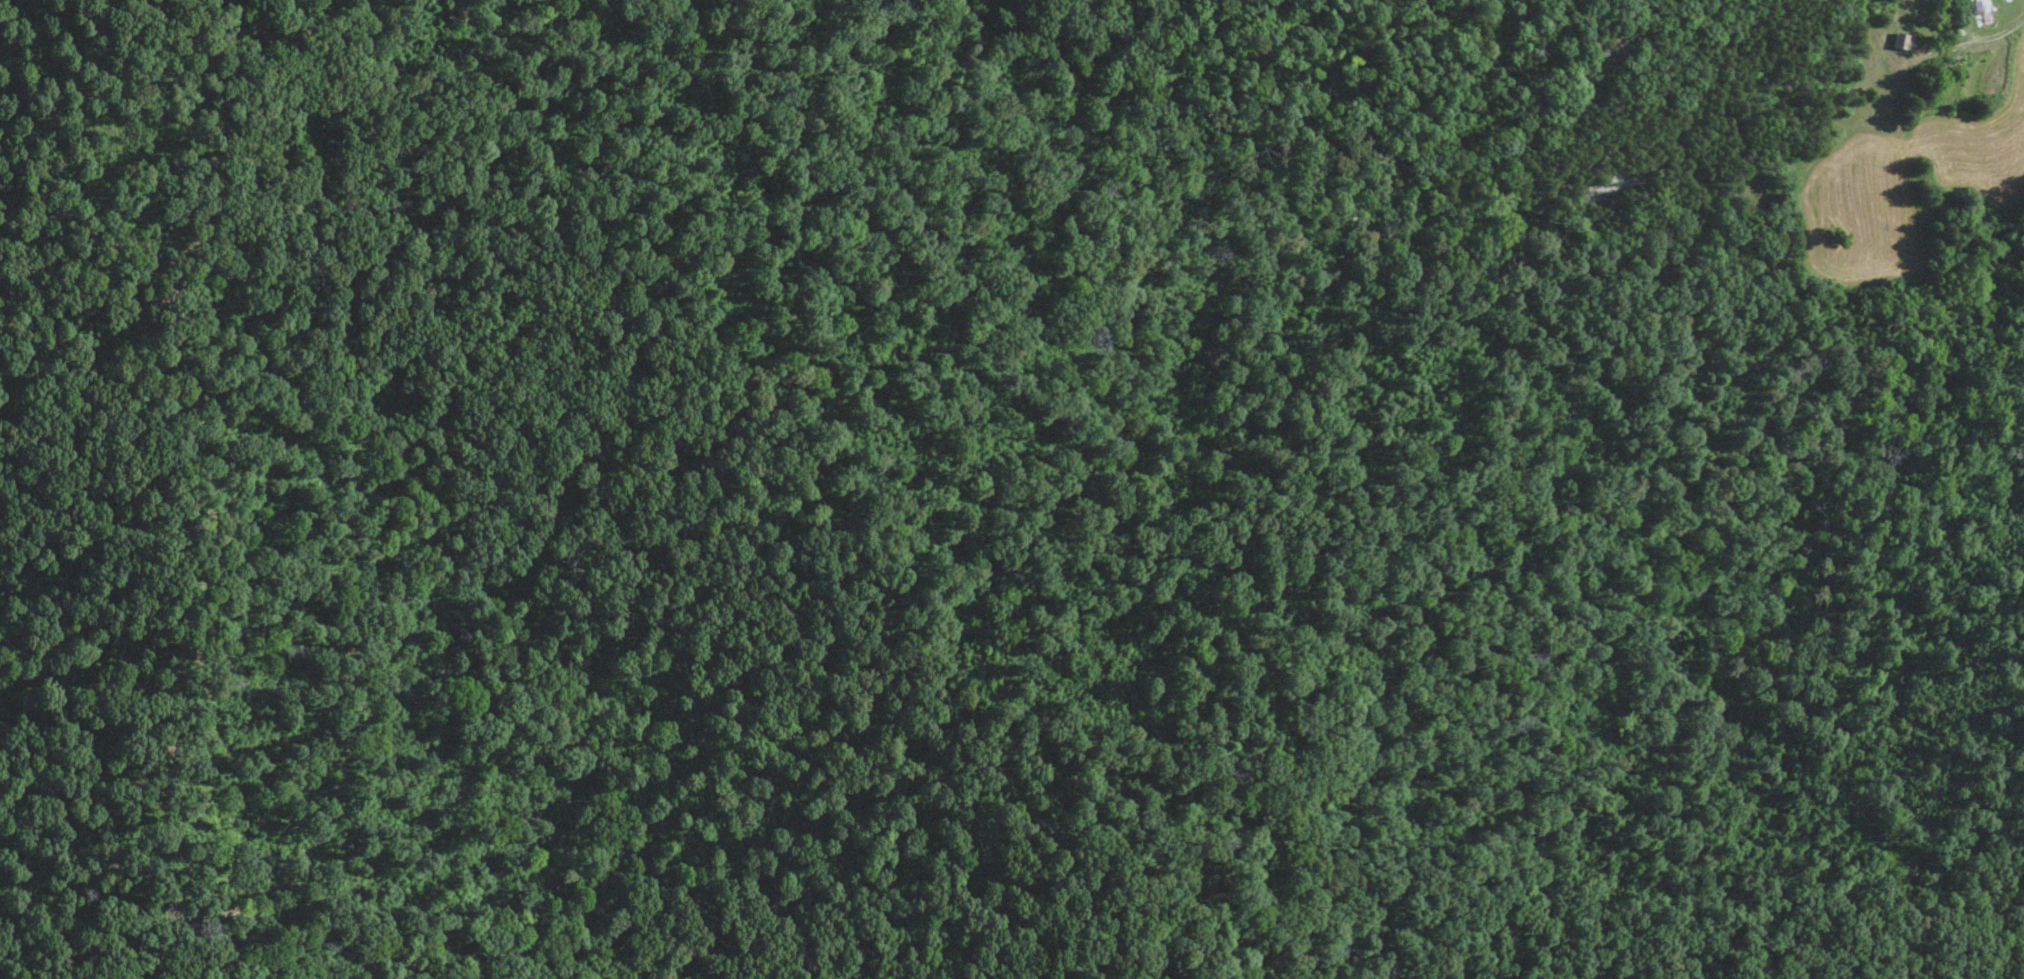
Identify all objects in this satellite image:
building: (1981, 9)
building: (1902, 40)

